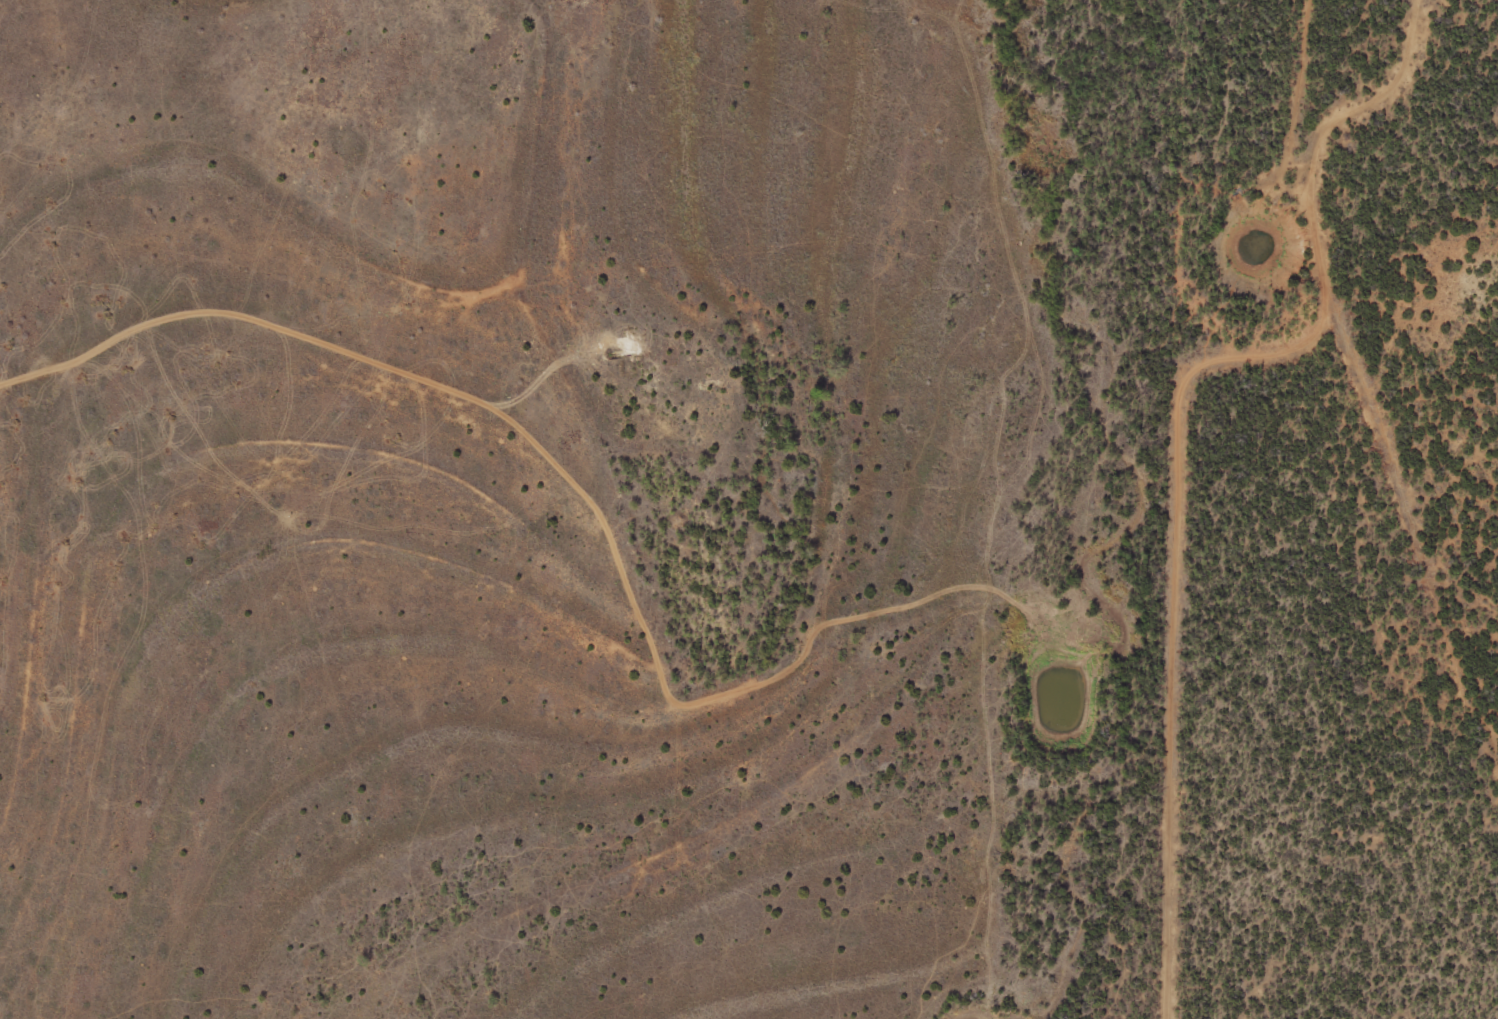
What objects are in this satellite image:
road: (773, 427)

